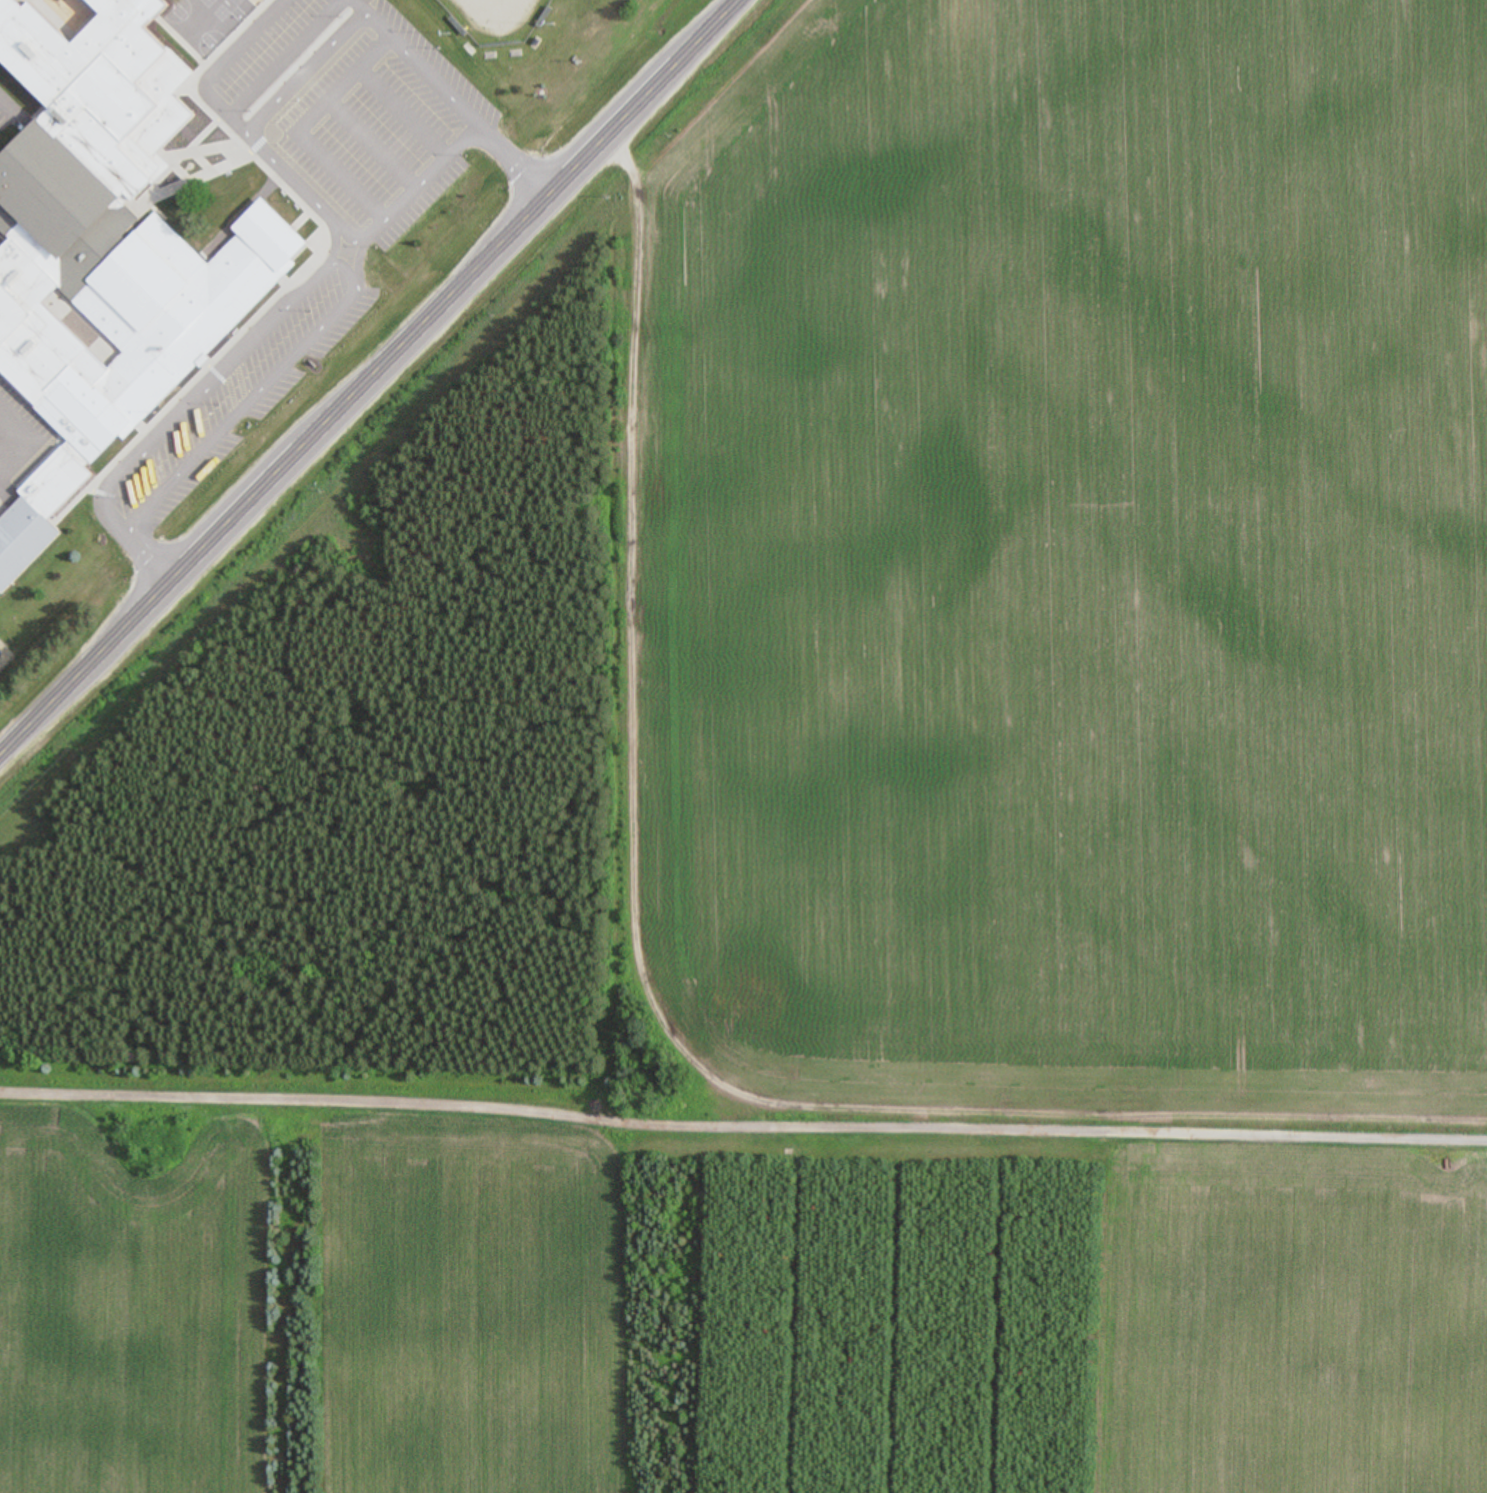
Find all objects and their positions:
road: (359, 14)
road: (310, 21)
park: (483, 22)
road: (409, 79)
road: (379, 101)
parking lot: (350, 131)
road: (346, 134)
road: (316, 164)
road: (500, 165)
road: (296, 206)
building: (107, 236)
road: (372, 378)
road: (208, 379)
building: (20, 536)
road: (101, 1436)

